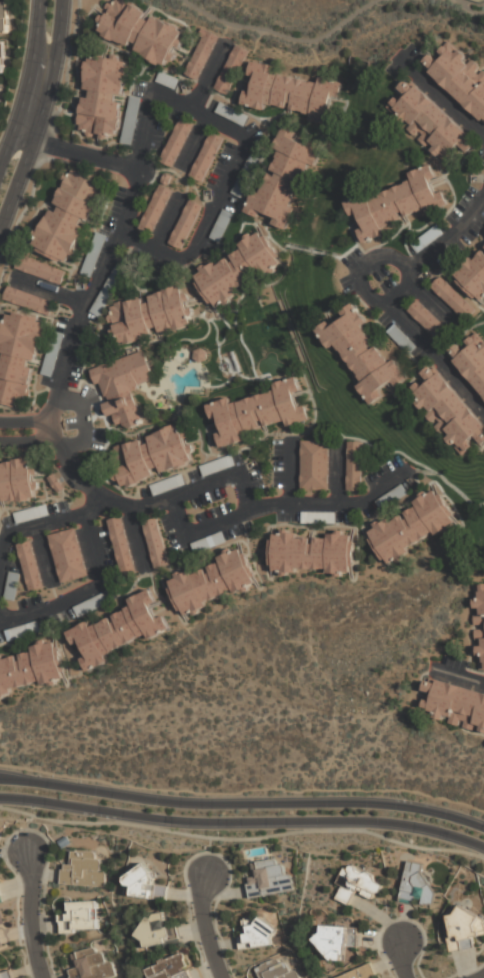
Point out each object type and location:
park: (478, 1)
road: (461, 6)
building: (3, 17)
park: (328, 19)
building: (140, 31)
road: (282, 37)
building: (200, 54)
building: (1, 57)
building: (231, 69)
building: (459, 76)
road: (209, 77)
building: (166, 81)
road: (25, 85)
building: (291, 93)
building: (102, 97)
road: (444, 98)
building: (231, 115)
road: (39, 116)
building: (131, 120)
building: (429, 122)
road: (46, 140)
building: (176, 140)
road: (197, 141)
road: (76, 152)
building: (206, 157)
road: (142, 159)
building: (246, 176)
building: (283, 178)
building: (394, 208)
building: (155, 209)
building: (68, 215)
road: (167, 223)
building: (185, 224)
building: (220, 225)
building: (427, 238)
building: (92, 255)
building: (39, 269)
building: (236, 269)
road: (364, 271)
building: (473, 277)
building: (106, 290)
road: (50, 291)
building: (453, 298)
building: (28, 301)
road: (396, 302)
building: (149, 315)
building: (426, 318)
building: (402, 338)
park: (273, 339)
building: (362, 353)
building: (51, 354)
building: (18, 357)
building: (470, 360)
building: (122, 386)
building: (448, 410)
building: (257, 411)
road: (83, 421)
road: (25, 422)
road: (27, 439)
building: (151, 455)
building: (216, 466)
building: (315, 466)
building: (355, 468)
road: (291, 473)
road: (338, 474)
building: (18, 481)
building: (166, 484)
building: (392, 498)
road: (246, 500)
road: (92, 506)
building: (30, 514)
building: (317, 518)
road: (31, 527)
building: (411, 528)
road: (200, 530)
road: (138, 535)
building: (154, 542)
building: (207, 542)
building: (120, 547)
building: (312, 554)
building: (67, 555)
building: (29, 566)
building: (212, 581)
building: (10, 586)
road: (81, 593)
building: (90, 605)
building: (478, 627)
building: (117, 630)
building: (21, 631)
building: (32, 668)
road: (462, 678)
building: (455, 705)
road: (19, 780)
road: (262, 804)
road: (242, 821)
road: (242, 838)
building: (83, 870)
building: (269, 878)
building: (416, 882)
building: (358, 884)
building: (143, 885)
building: (1, 898)
road: (32, 913)
building: (80, 917)
building: (1, 918)
road: (207, 928)
building: (464, 930)
building: (156, 932)
building: (259, 935)
building: (337, 942)
building: (0, 944)
road: (400, 959)
building: (91, 965)
building: (170, 968)
building: (276, 970)
building: (361, 973)
building: (6, 975)

